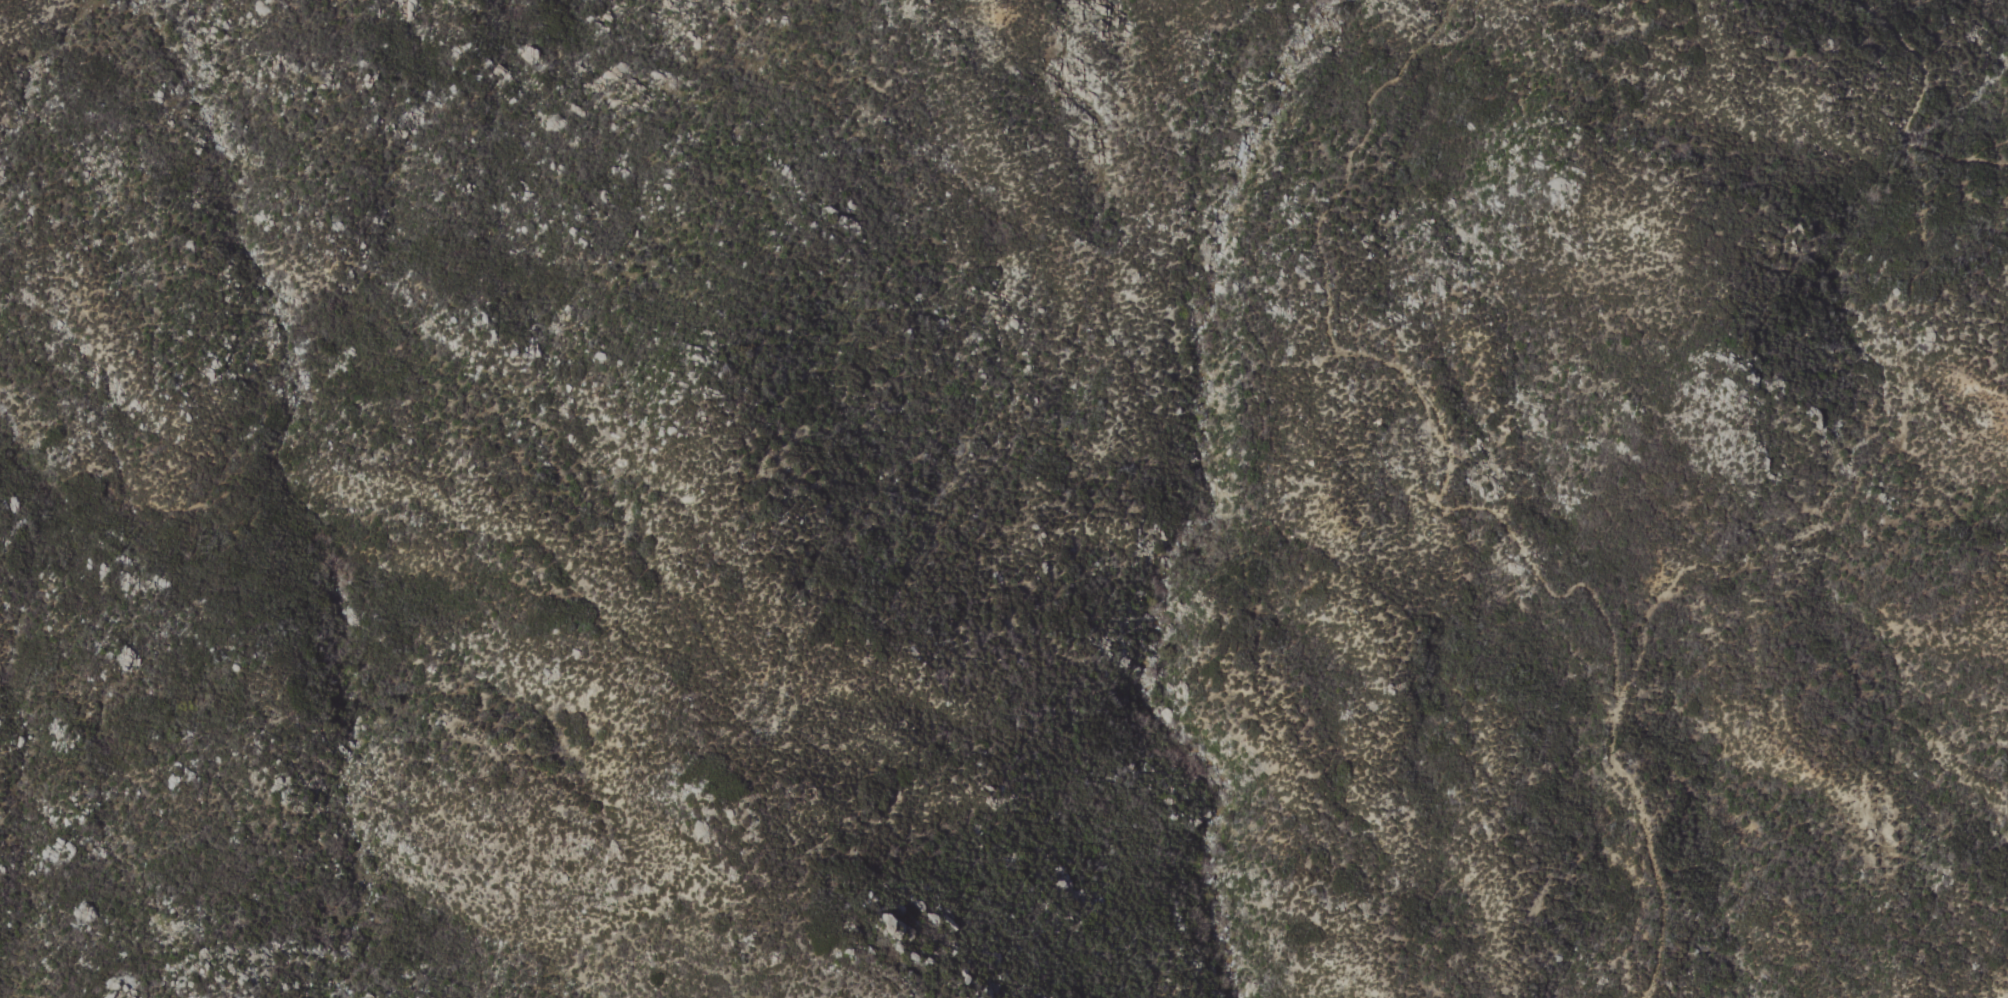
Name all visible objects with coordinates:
road: (1911, 109)

